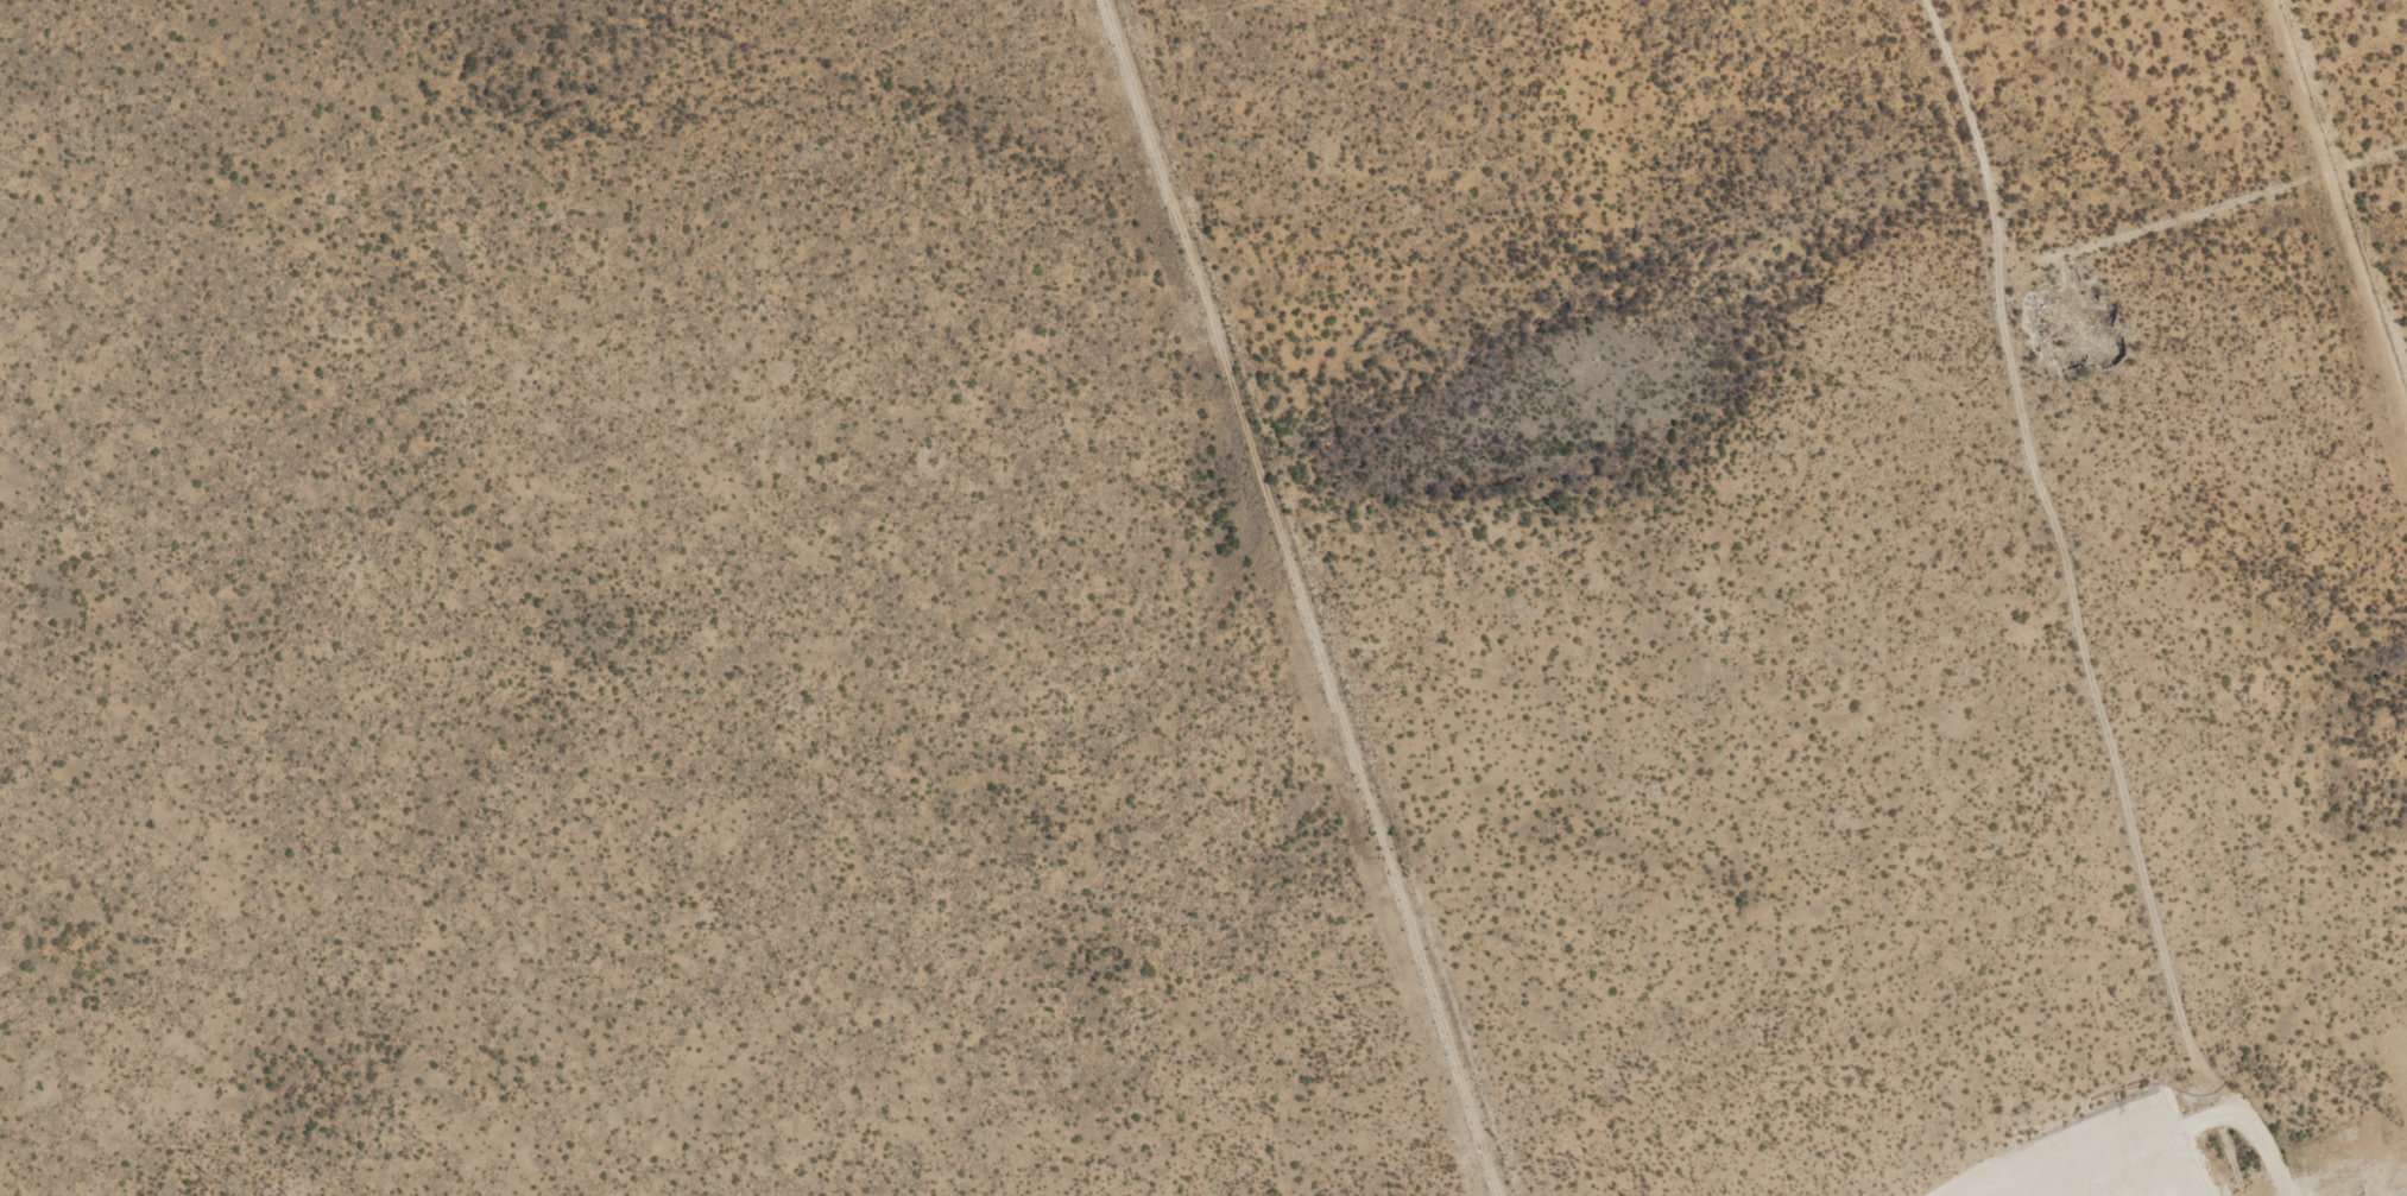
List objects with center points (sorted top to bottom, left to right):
road: (2203, 205)
road: (2079, 602)

